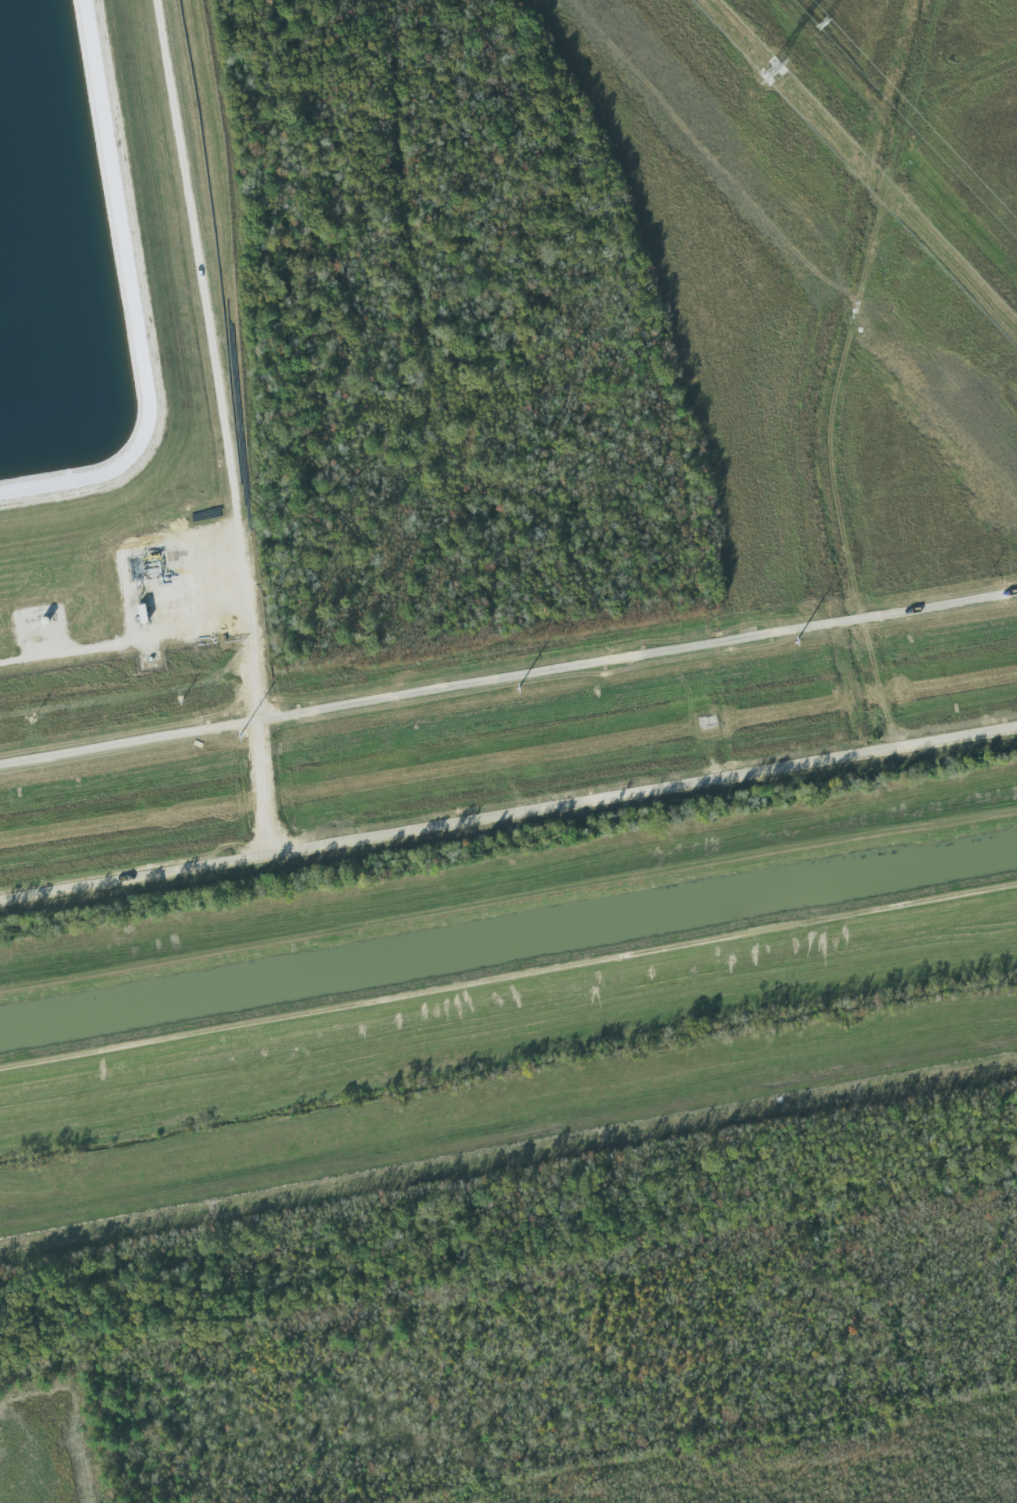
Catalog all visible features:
power tower: (819, 26)
power tower: (769, 75)

